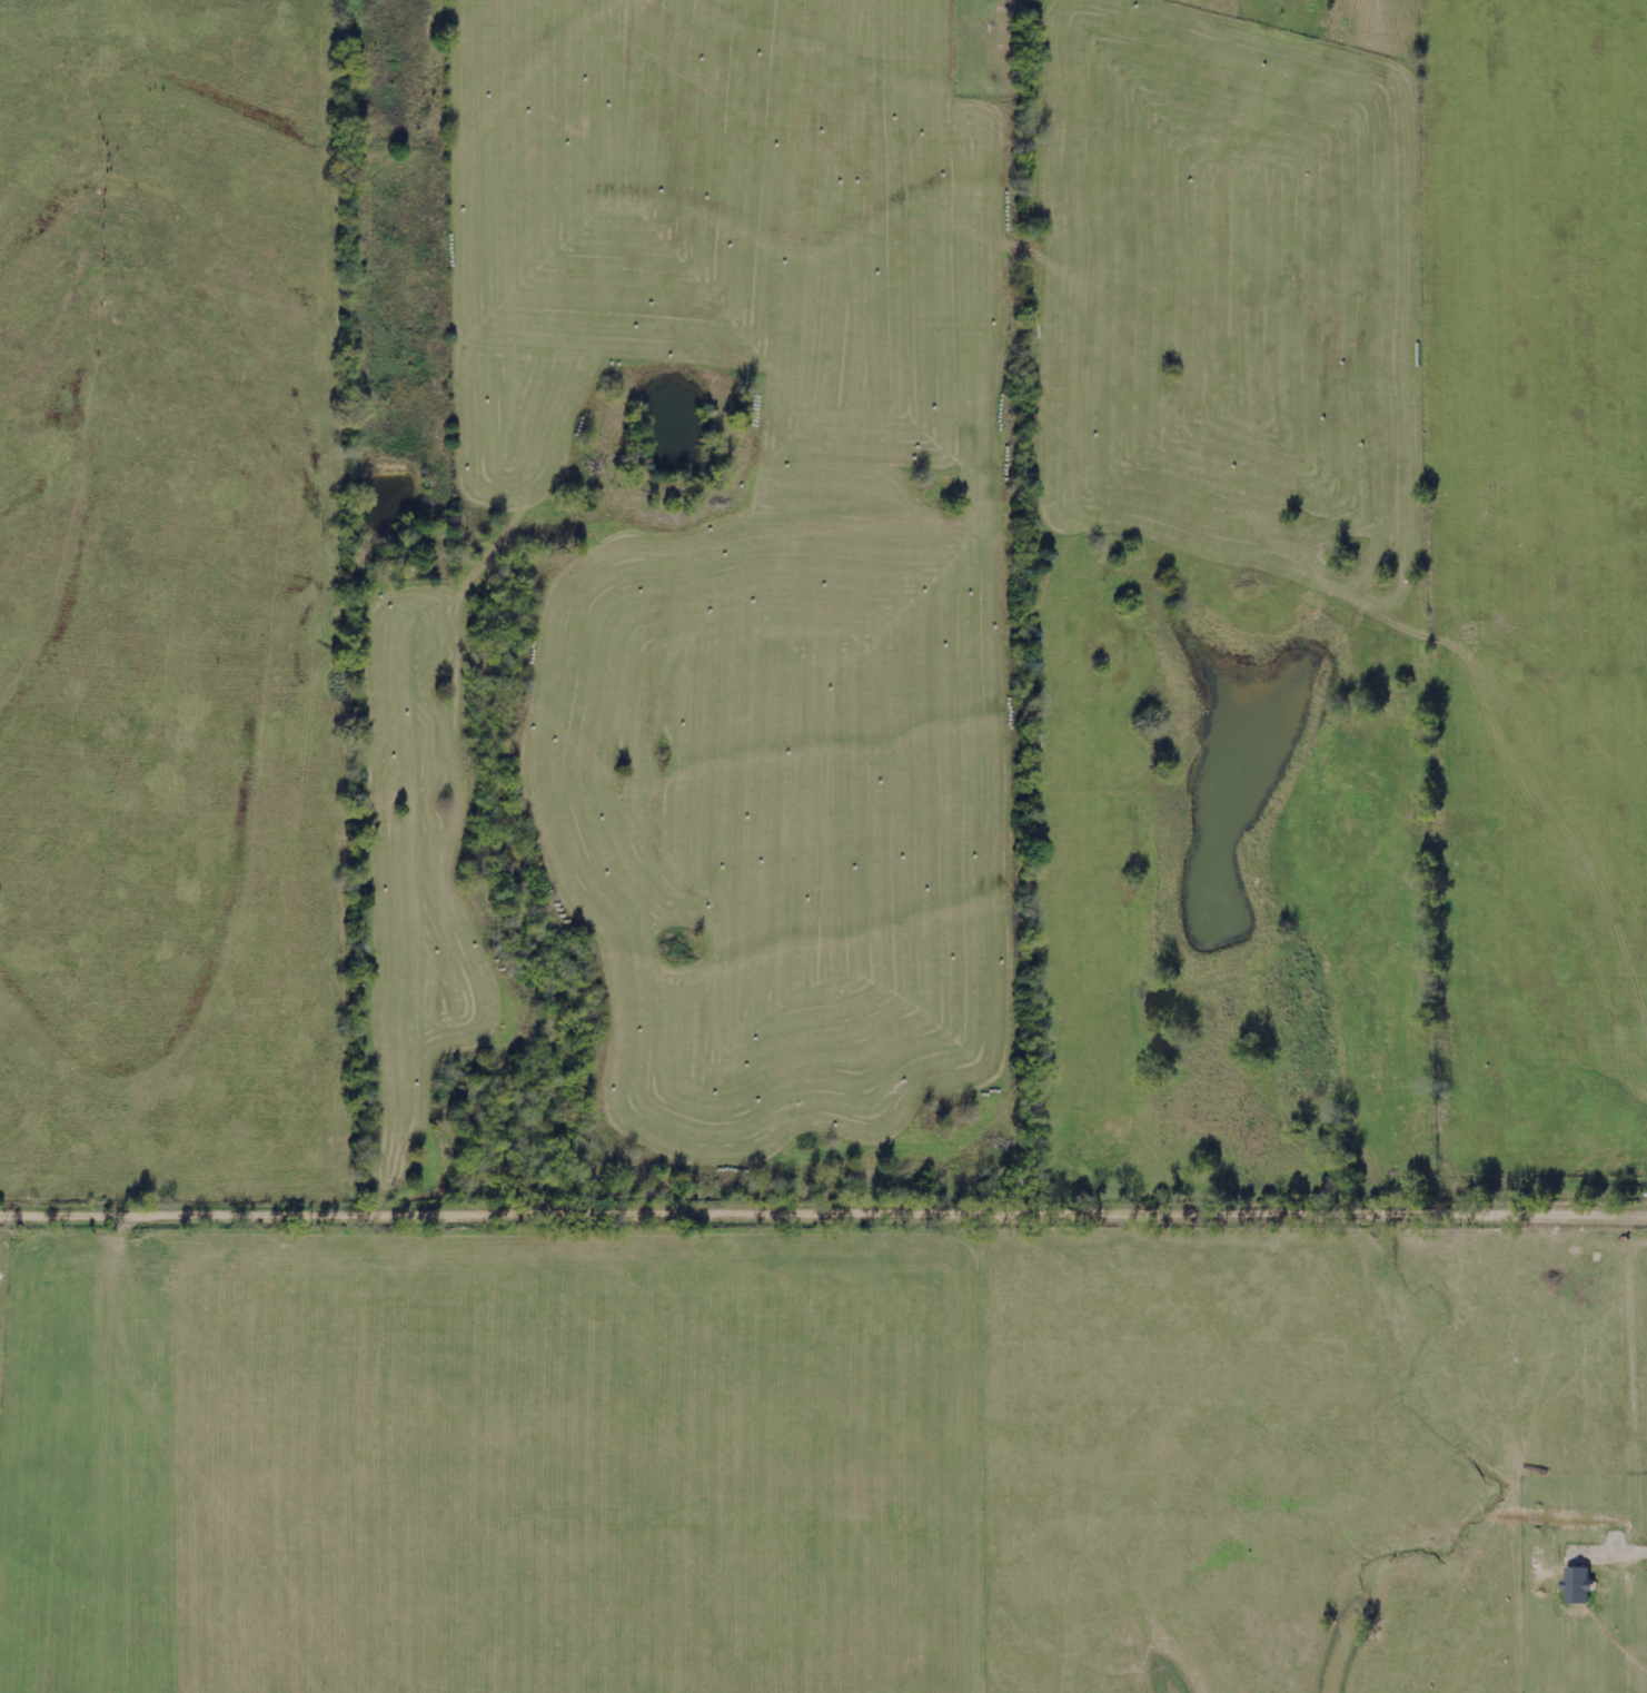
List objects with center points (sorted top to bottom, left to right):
road: (823, 1218)

